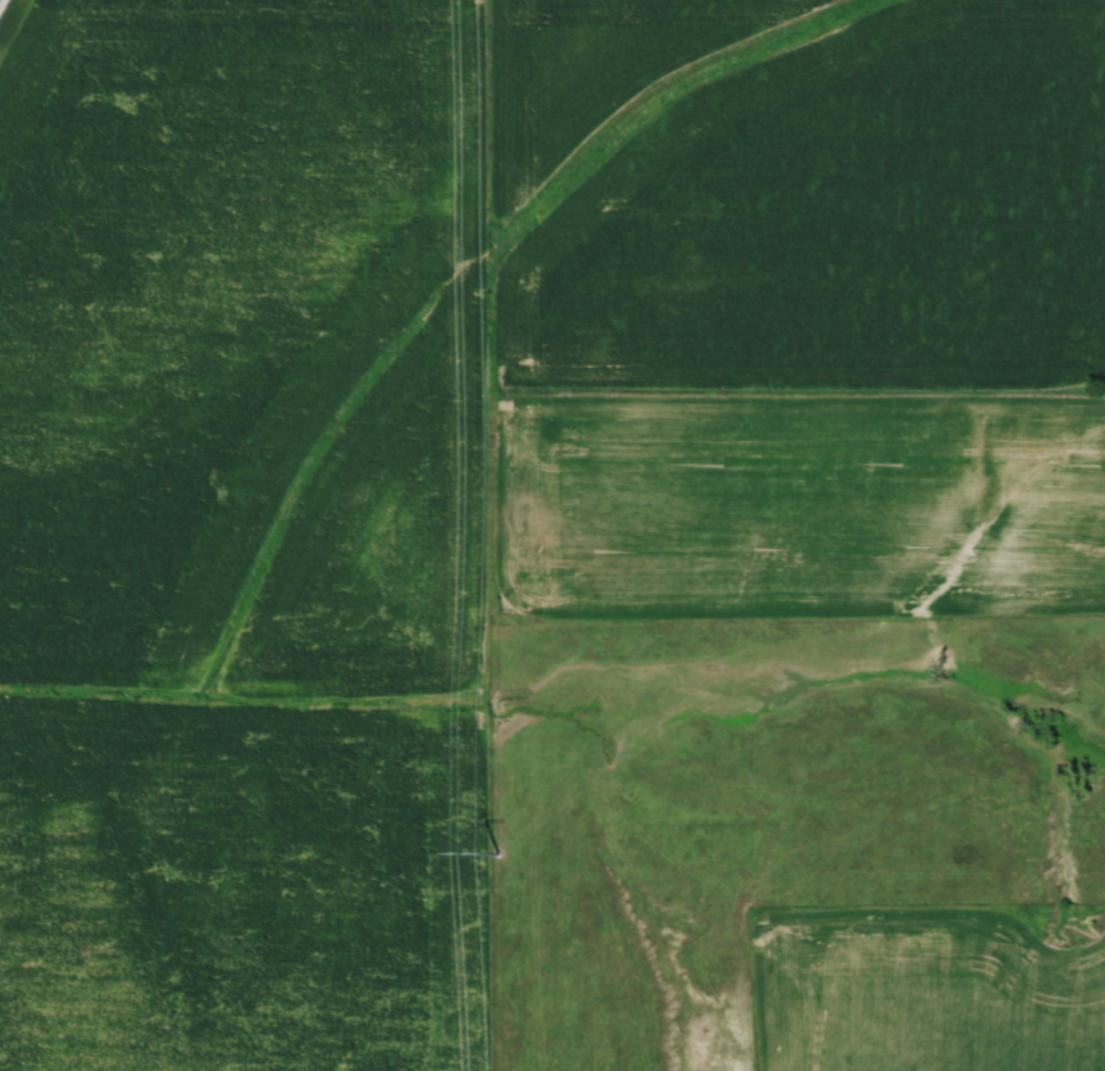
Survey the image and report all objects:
power tower: (498, 853)

